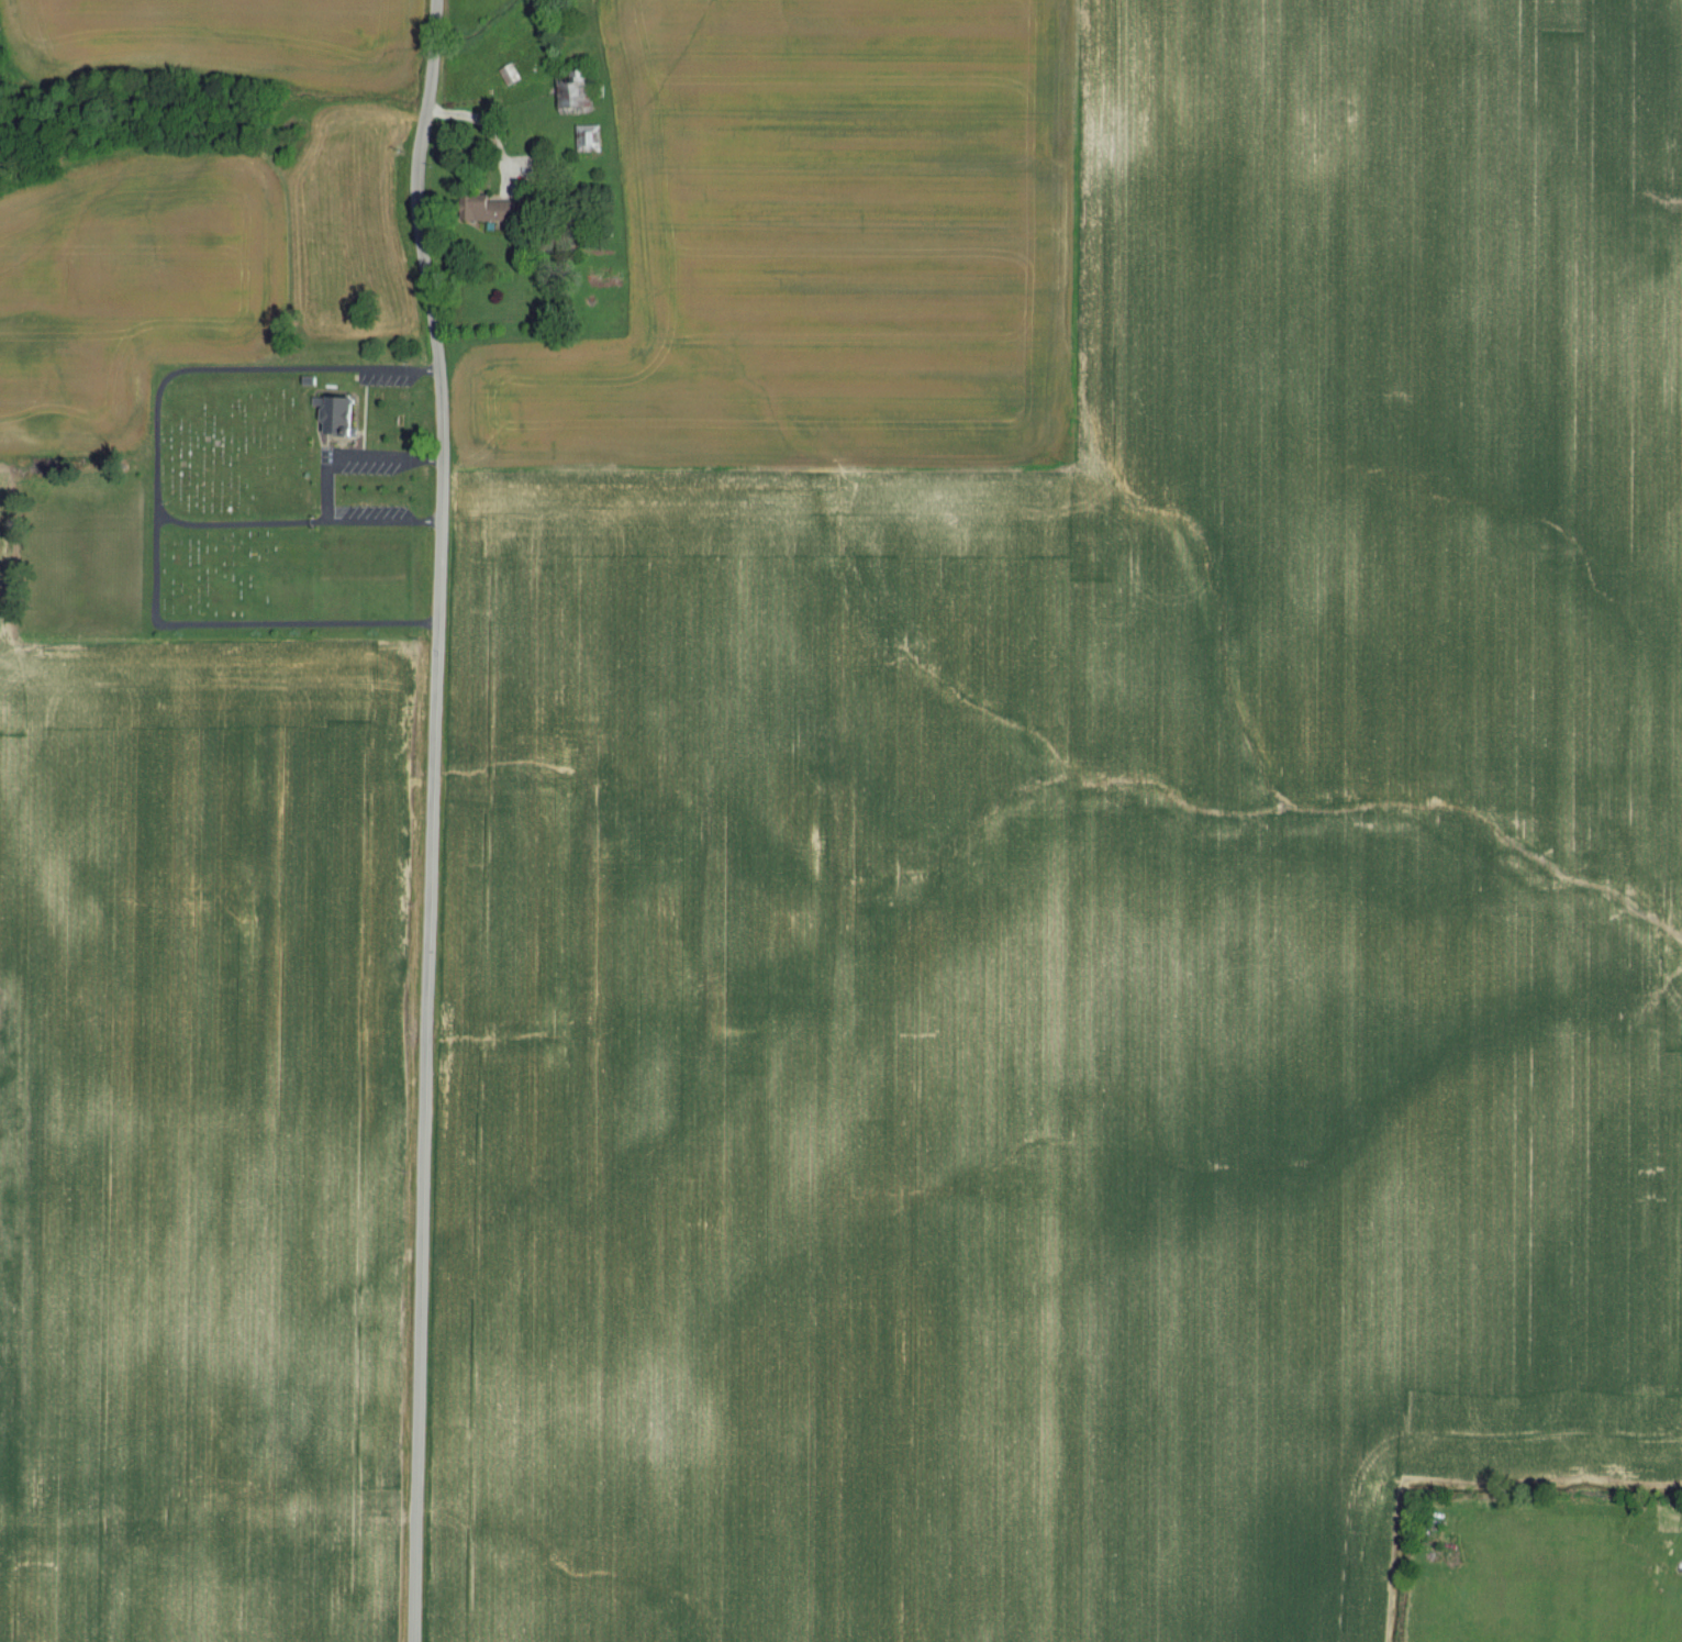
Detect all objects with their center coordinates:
building: (511, 77)
building: (576, 90)
road: (482, 129)
building: (590, 140)
building: (500, 212)
road: (192, 370)
road: (400, 370)
building: (337, 417)
road: (355, 457)
road: (382, 523)
road: (240, 525)
road: (244, 625)
road: (432, 818)

